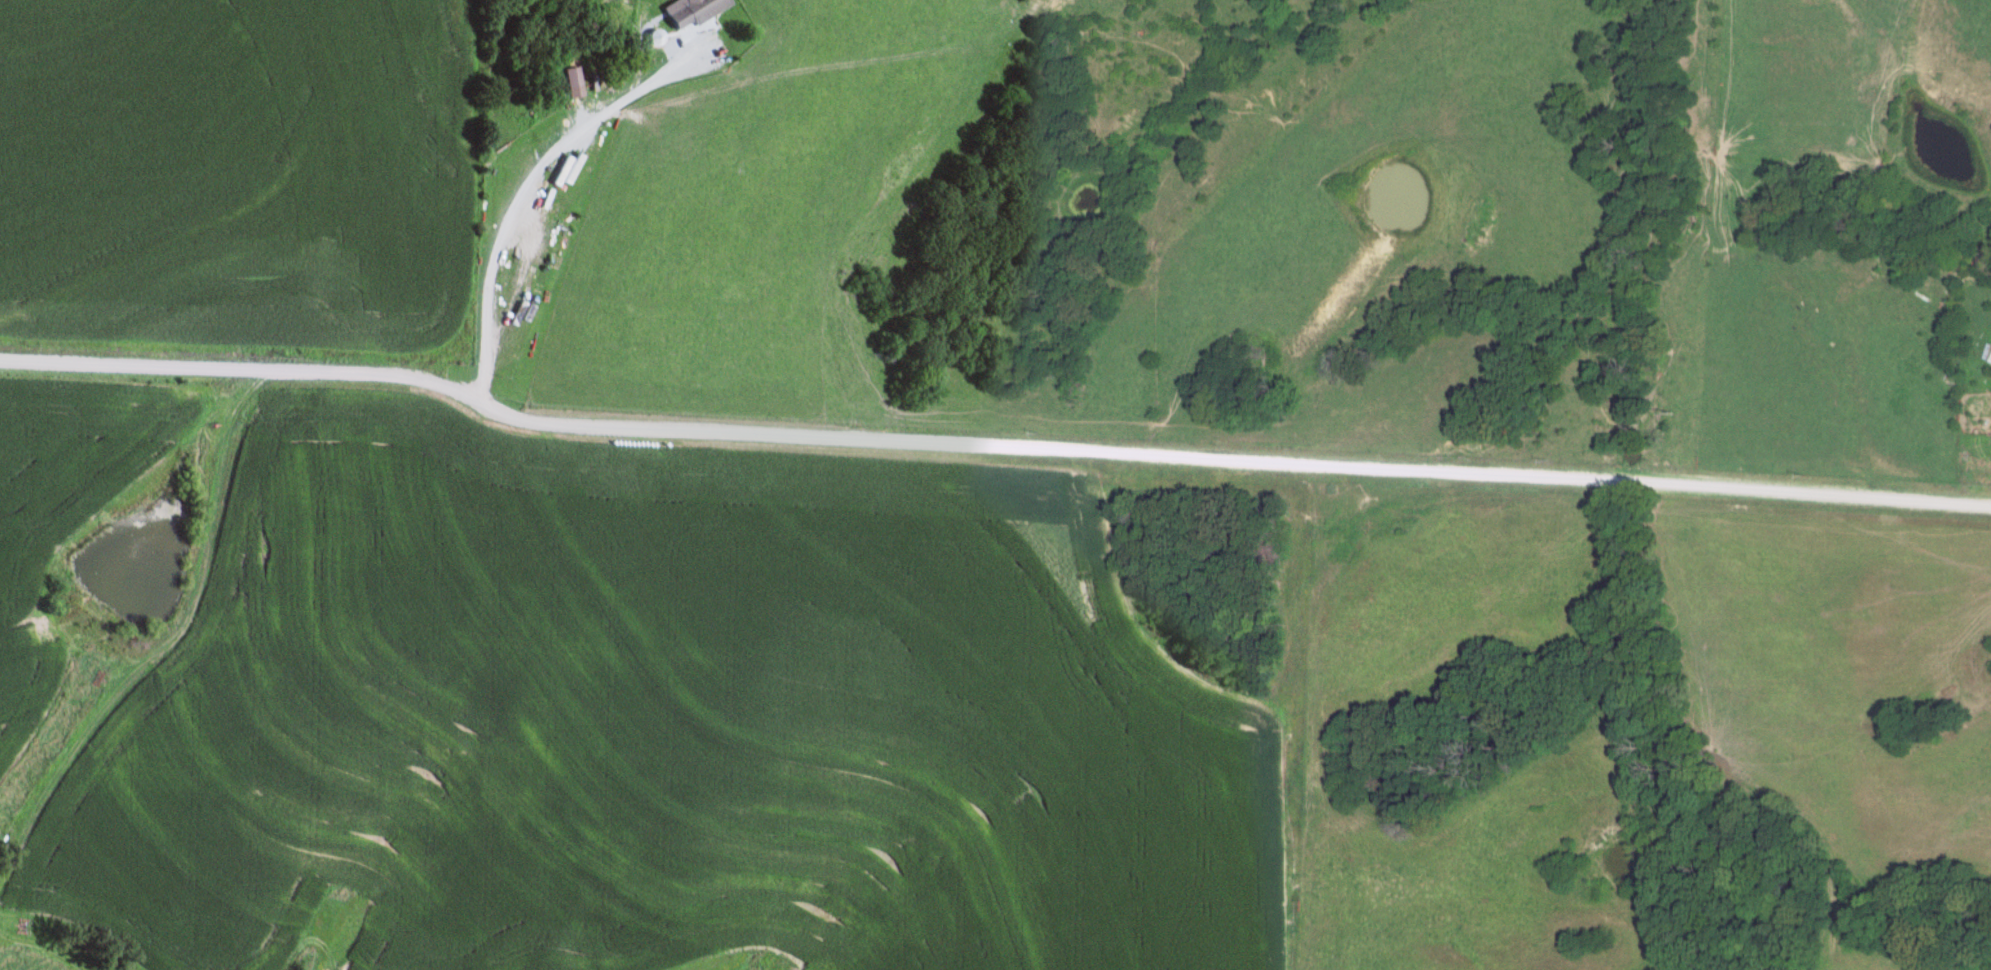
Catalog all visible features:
building: (697, 12)
road: (706, 32)
road: (514, 205)
road: (991, 451)

